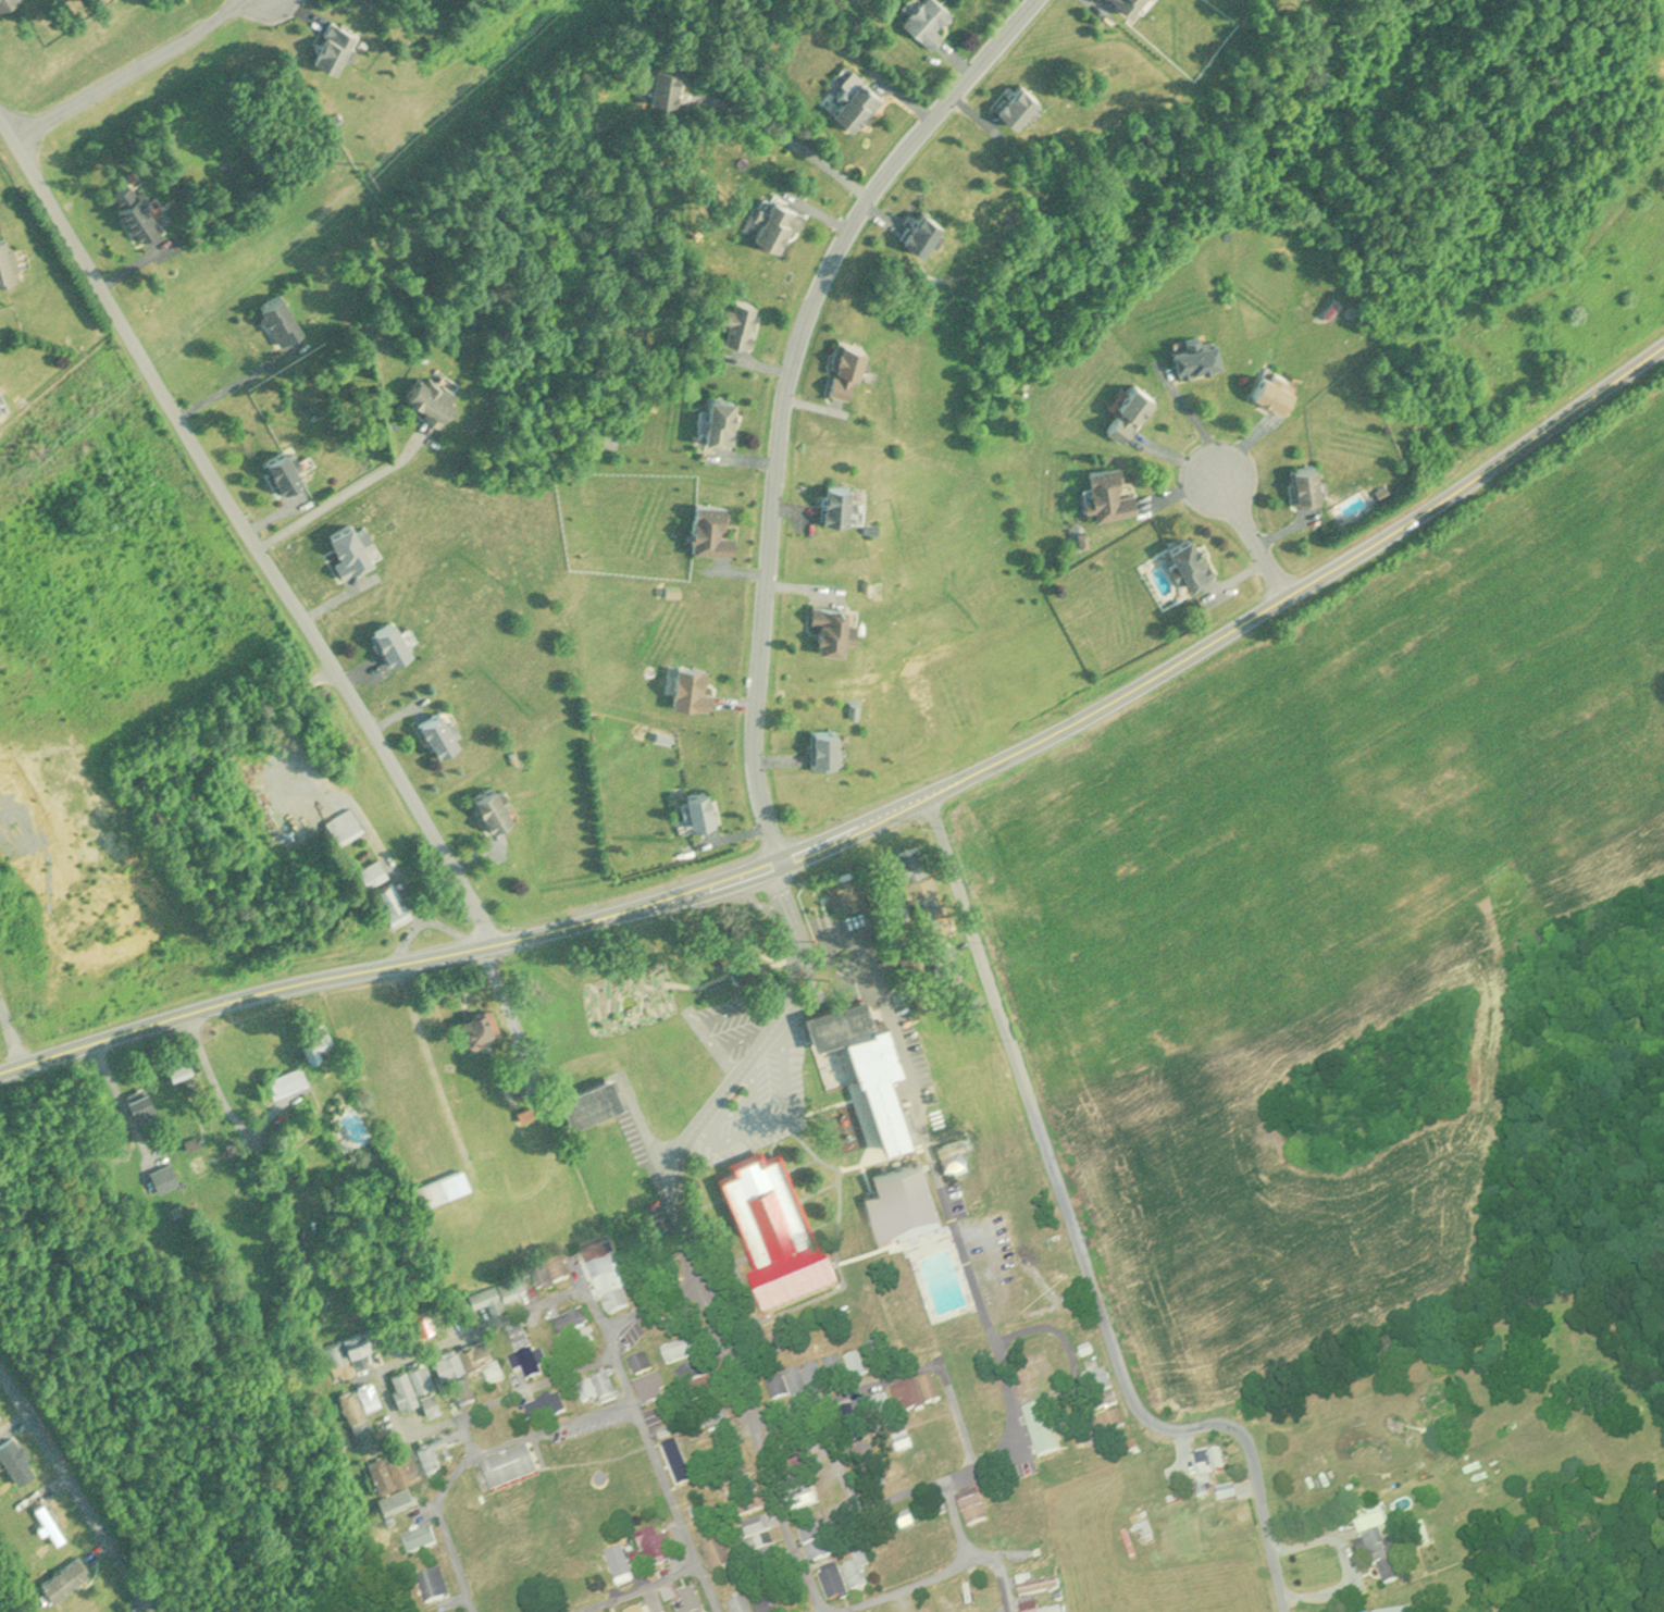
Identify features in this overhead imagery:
road: (131, 72)
road: (786, 137)
power tower: (364, 163)
road: (235, 383)
road: (790, 394)
road: (1203, 425)
power tower: (34, 446)
road: (346, 491)
road: (249, 530)
road: (1257, 536)
road: (297, 721)
road: (880, 818)
road: (371, 836)
road: (424, 918)
road: (933, 964)
road: (206, 1075)
road: (944, 1179)
road: (660, 1228)
road: (1077, 1243)
road: (649, 1310)
road: (1056, 1329)
road: (474, 1332)
road: (841, 1396)
road: (497, 1401)
road: (394, 1403)
road: (954, 1403)
road: (559, 1427)
road: (654, 1430)
road: (471, 1436)
road: (887, 1437)
road: (77, 1485)
road: (853, 1518)
road: (451, 1528)
road: (976, 1561)
road: (1352, 1562)
road: (907, 1587)
road: (647, 1590)

